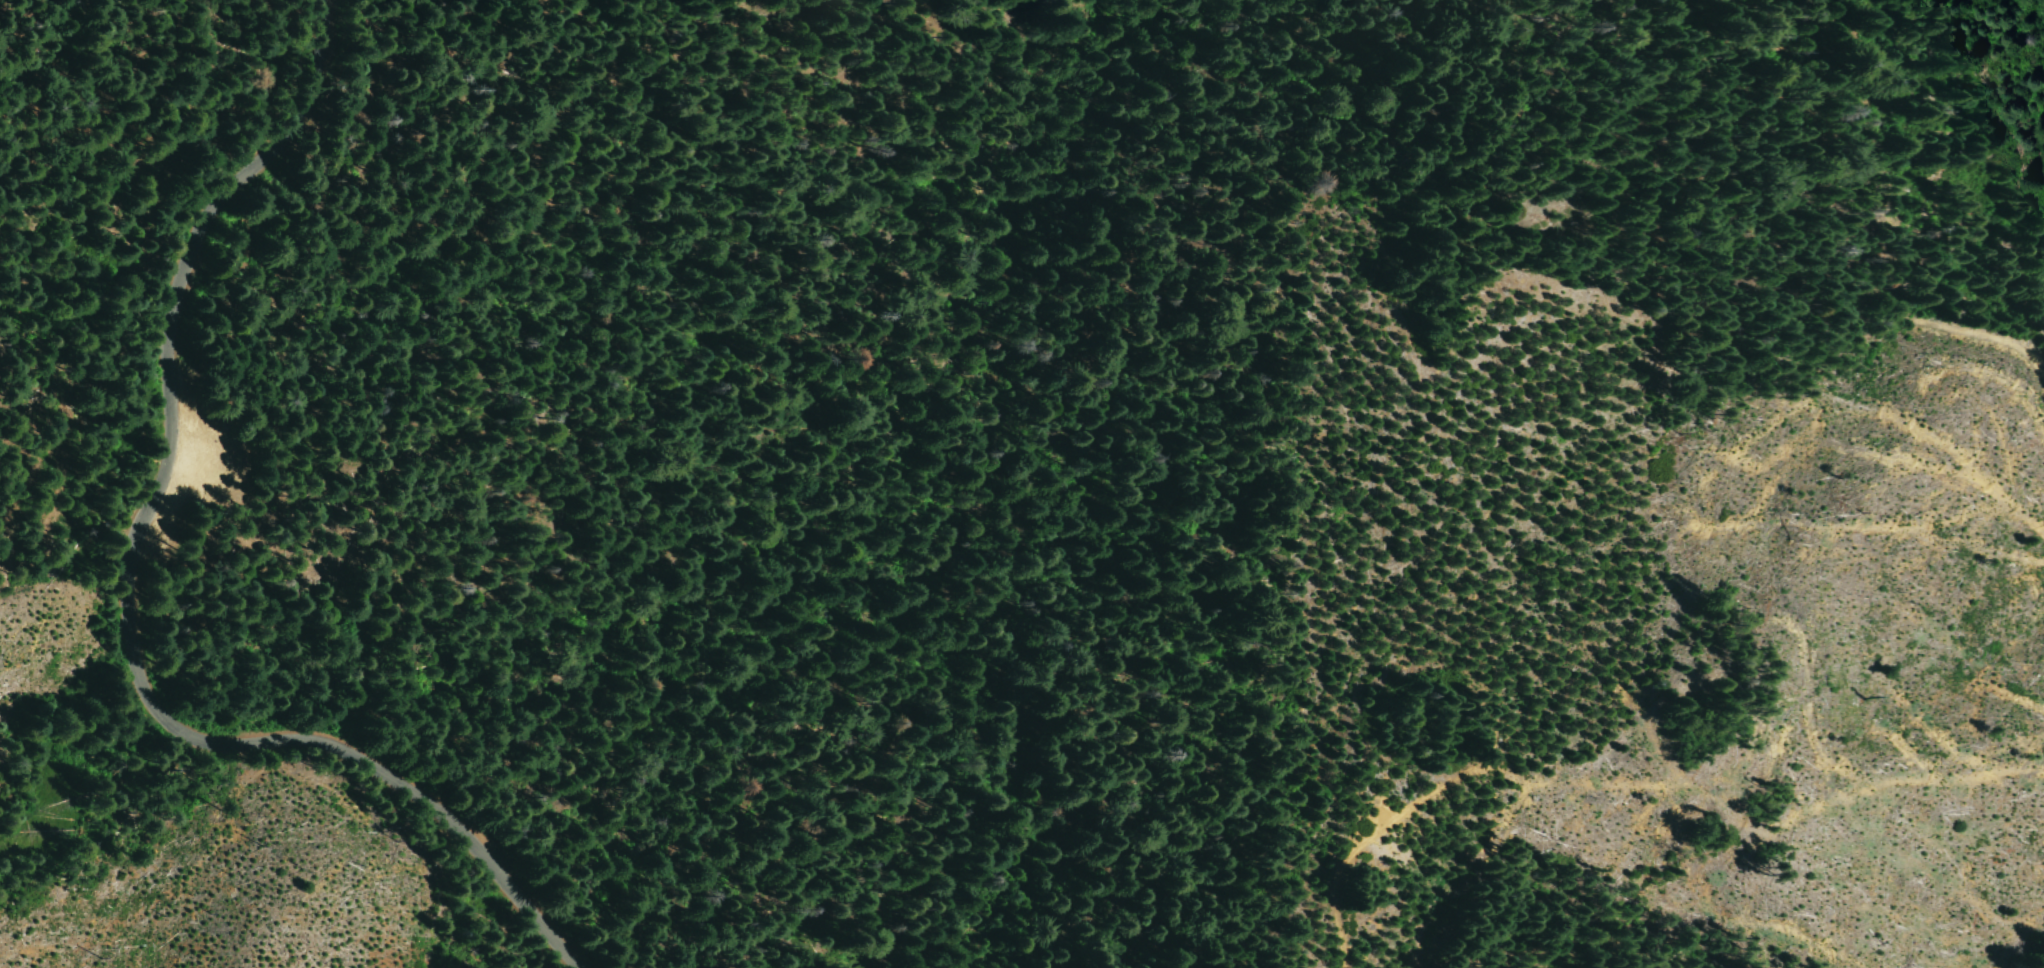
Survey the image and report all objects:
road: (137, 592)

